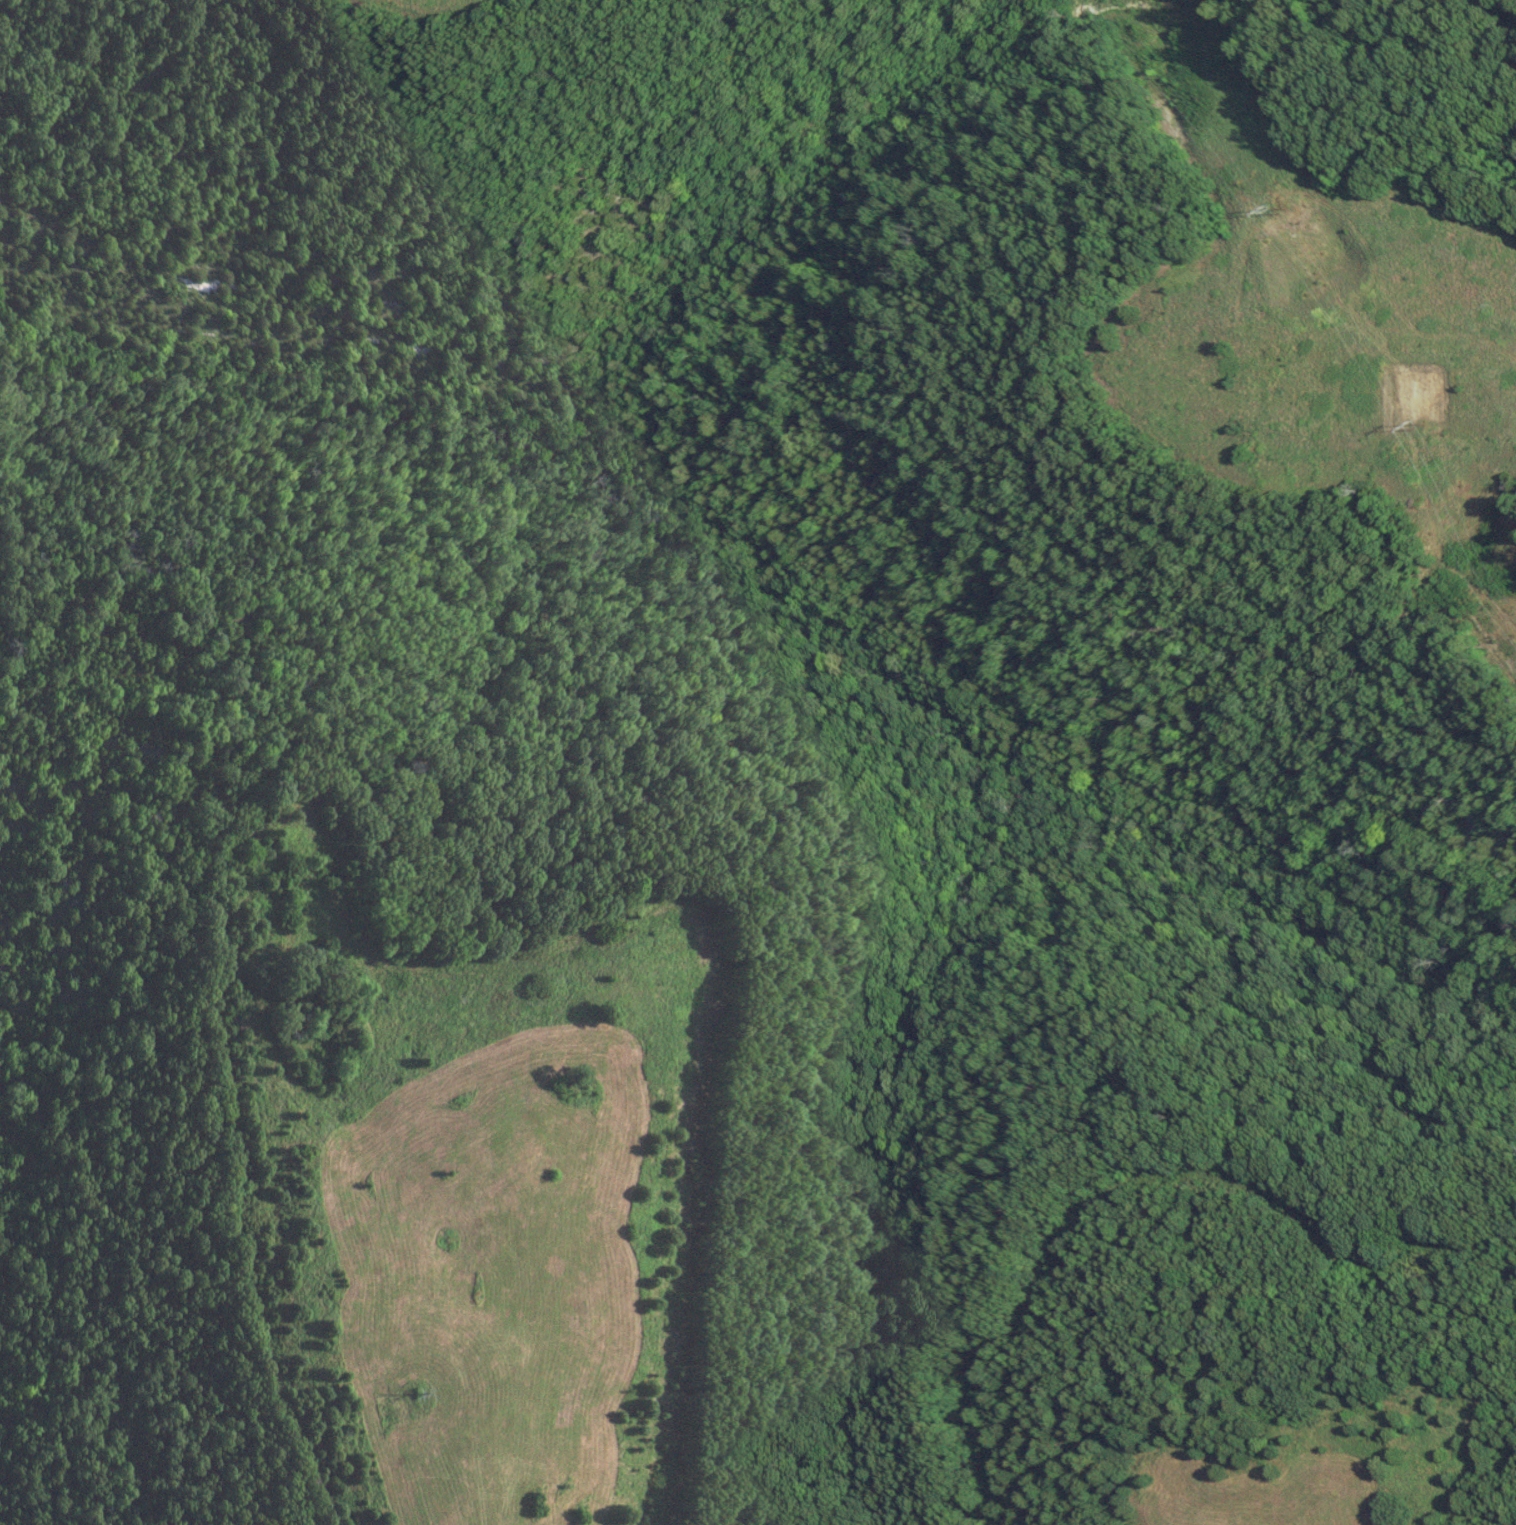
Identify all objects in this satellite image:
airport: (1402, 184)
power tower: (1288, 214)
power tower: (1420, 429)

